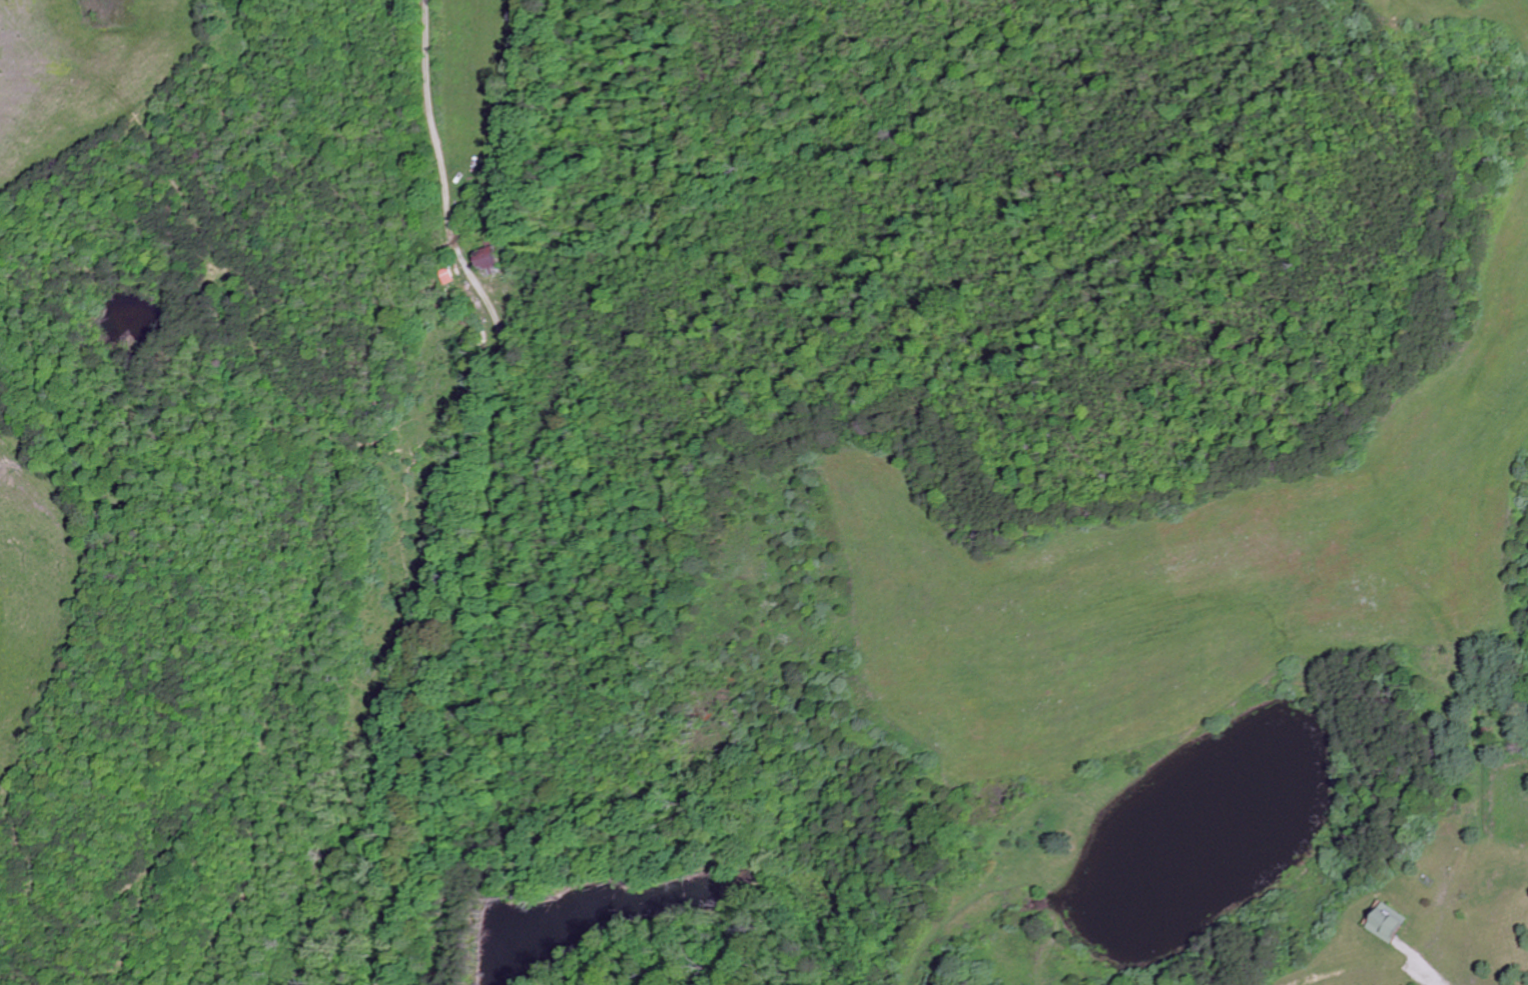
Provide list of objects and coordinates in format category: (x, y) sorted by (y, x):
road: (490, 315)
road: (464, 494)
building: (1387, 923)
road: (1425, 963)

